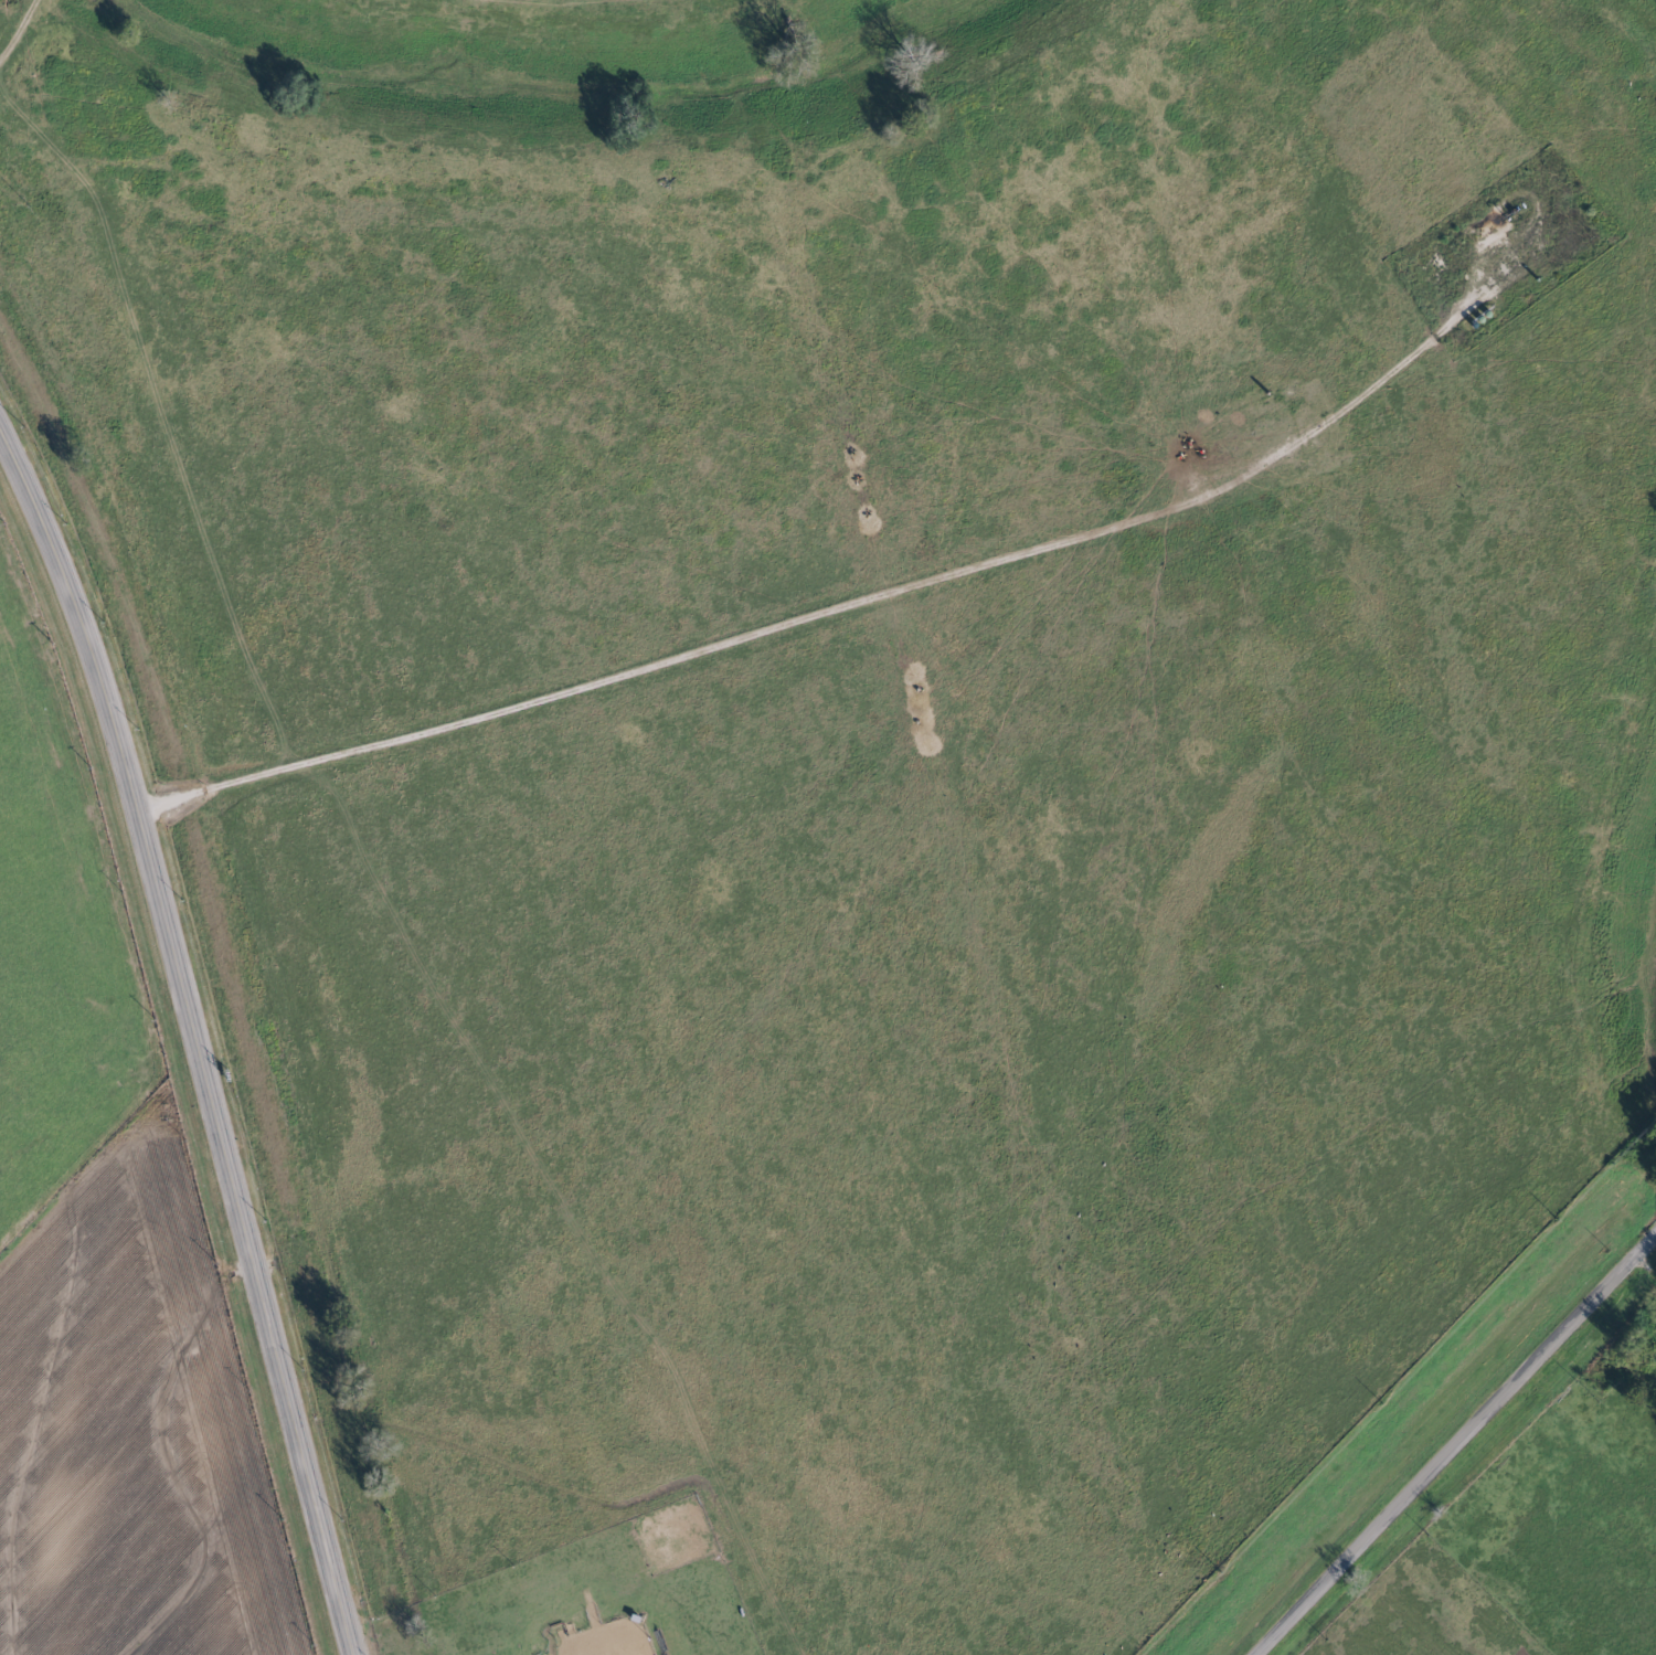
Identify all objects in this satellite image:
road: (698, 649)
railway: (241, 972)
road: (194, 1040)
road: (1642, 1265)
railway: (331, 1334)
road: (1450, 1440)

